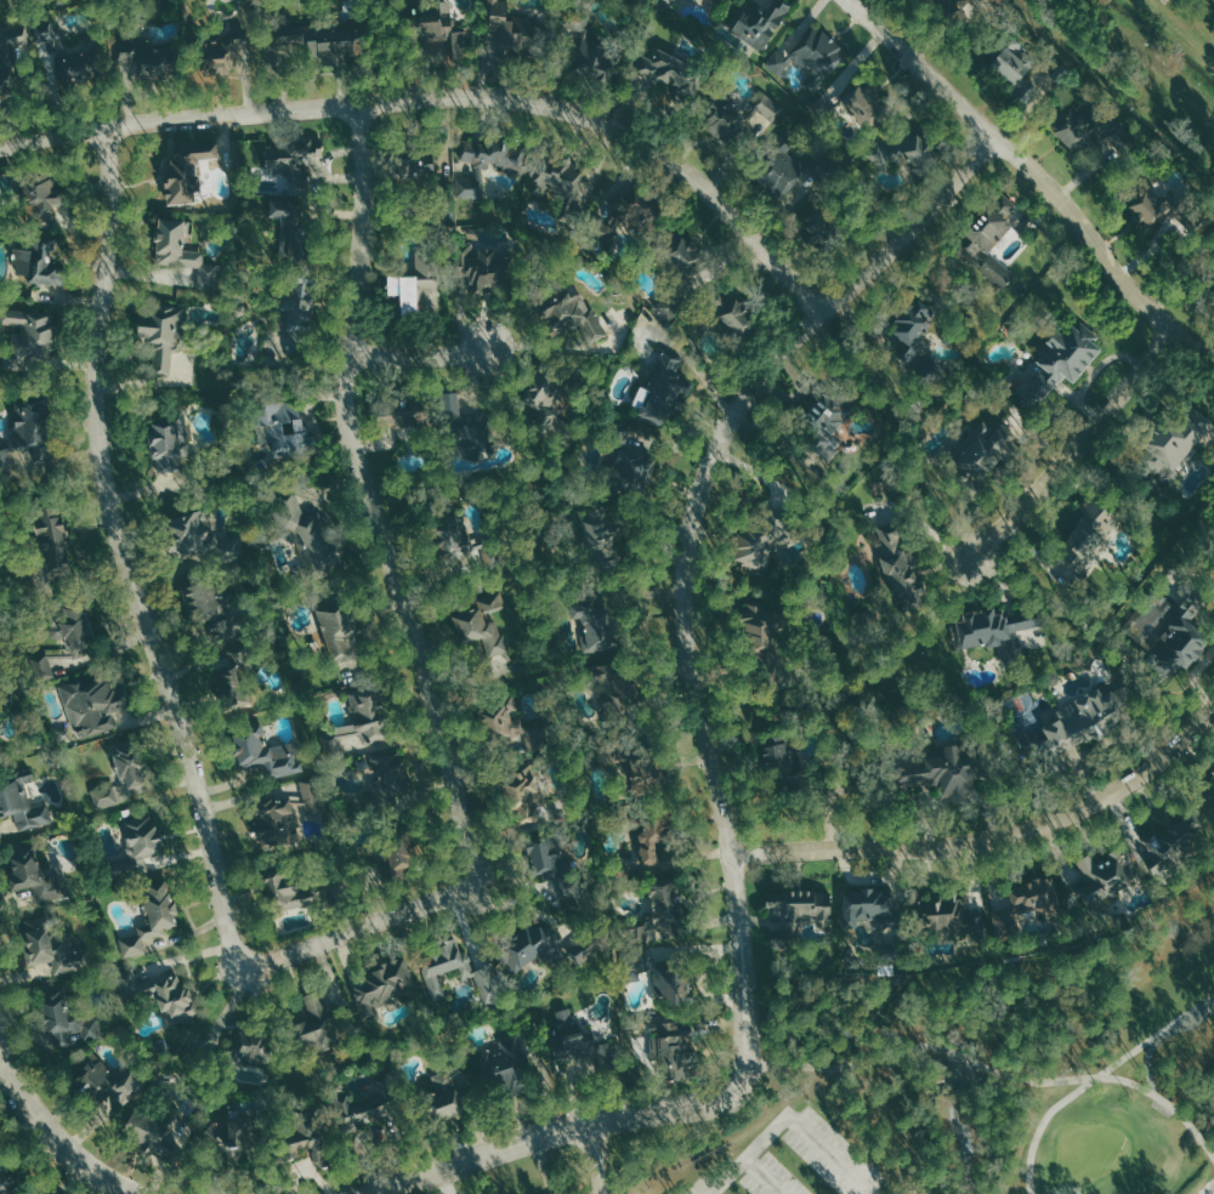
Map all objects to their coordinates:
building: (675, 1)
building: (693, 1)
building: (944, 6)
building: (756, 22)
building: (512, 28)
building: (437, 29)
building: (313, 42)
building: (56, 47)
building: (586, 47)
building: (223, 52)
building: (811, 56)
building: (142, 61)
building: (1011, 62)
building: (4, 84)
building: (1036, 85)
road: (447, 96)
building: (863, 103)
building: (770, 107)
building: (727, 116)
building: (1071, 124)
building: (900, 152)
building: (294, 158)
building: (484, 163)
building: (420, 164)
building: (186, 166)
building: (782, 170)
building: (561, 174)
road: (1036, 177)
building: (40, 195)
building: (1148, 205)
building: (289, 223)
building: (988, 227)
building: (183, 250)
building: (682, 250)
building: (481, 257)
building: (39, 258)
building: (997, 271)
building: (412, 282)
building: (299, 298)
building: (668, 306)
building: (731, 309)
building: (571, 317)
building: (912, 329)
building: (32, 334)
building: (161, 334)
building: (1067, 354)
road: (415, 357)
road: (694, 368)
building: (663, 392)
building: (543, 403)
building: (403, 415)
building: (29, 422)
building: (460, 426)
building: (826, 426)
building: (282, 427)
building: (1180, 436)
road: (1076, 447)
building: (166, 449)
building: (985, 451)
building: (630, 460)
road: (373, 504)
road: (921, 522)
building: (305, 528)
building: (1091, 528)
building: (600, 529)
building: (189, 530)
building: (51, 535)
building: (450, 536)
building: (762, 539)
road: (688, 547)
building: (897, 567)
building: (203, 599)
building: (481, 622)
building: (592, 624)
building: (992, 629)
building: (760, 633)
building: (340, 637)
building: (72, 638)
building: (1181, 641)
building: (44, 669)
road: (161, 675)
building: (92, 703)
building: (503, 721)
building: (362, 722)
building: (1079, 723)
building: (773, 739)
building: (0, 747)
building: (266, 754)
building: (778, 761)
building: (127, 769)
building: (938, 772)
building: (390, 775)
building: (1210, 778)
building: (522, 794)
building: (104, 796)
building: (22, 801)
building: (287, 812)
building: (142, 836)
road: (998, 838)
building: (649, 840)
building: (1173, 841)
building: (399, 854)
building: (543, 858)
building: (1104, 875)
building: (36, 876)
building: (284, 894)
building: (1026, 904)
building: (867, 905)
building: (802, 906)
building: (946, 914)
building: (152, 919)
building: (657, 919)
building: (526, 946)
building: (50, 948)
building: (478, 971)
building: (381, 987)
building: (675, 989)
building: (174, 997)
building: (68, 1020)
building: (314, 1025)
road: (1161, 1036)
building: (578, 1042)
building: (250, 1048)
building: (676, 1057)
road: (875, 1062)
park: (992, 1076)
building: (103, 1081)
road: (1044, 1081)
building: (359, 1109)
road: (794, 1121)
building: (963, 1128)
building: (301, 1132)
road: (567, 1132)
building: (158, 1133)
road: (52, 1137)
building: (229, 1137)
park: (1088, 1153)
road: (594, 1160)
road: (1173, 1160)
road: (766, 1175)
building: (6, 1182)

